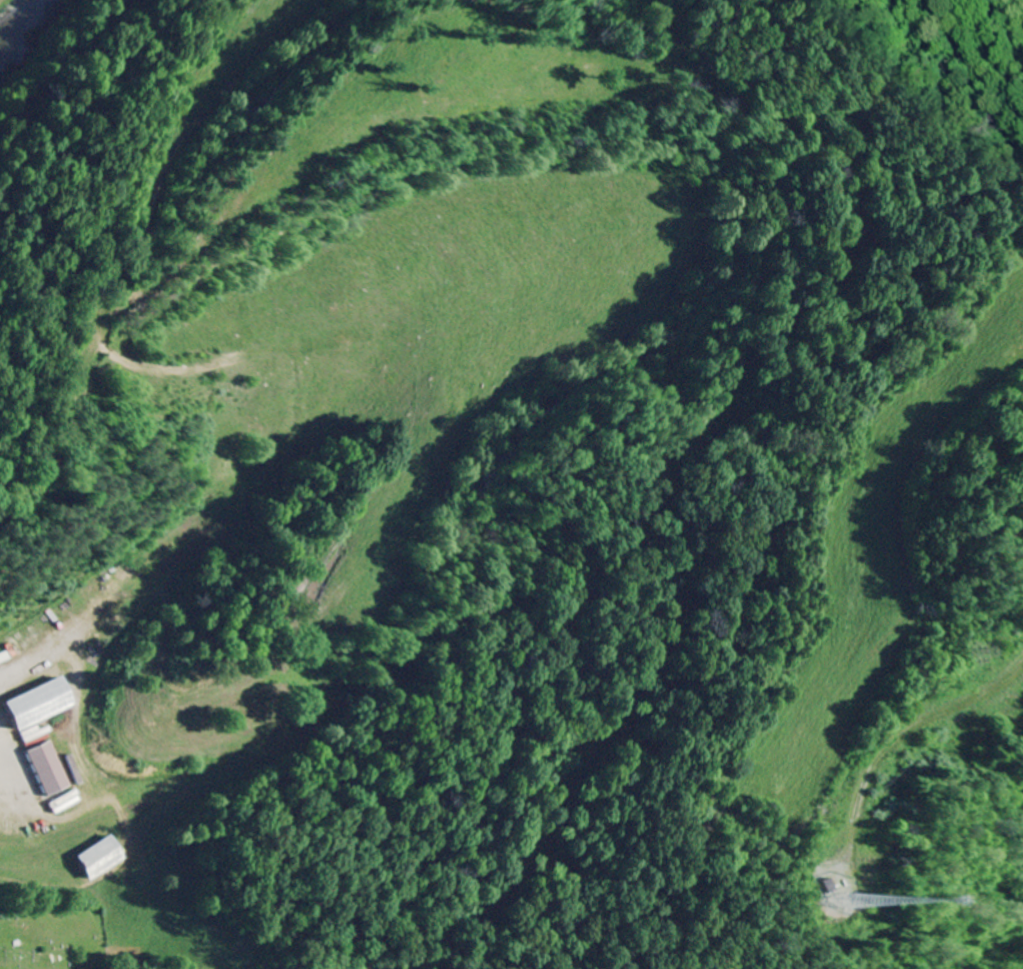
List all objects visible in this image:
building: (41, 704)
building: (49, 769)
building: (100, 859)
park: (53, 936)

